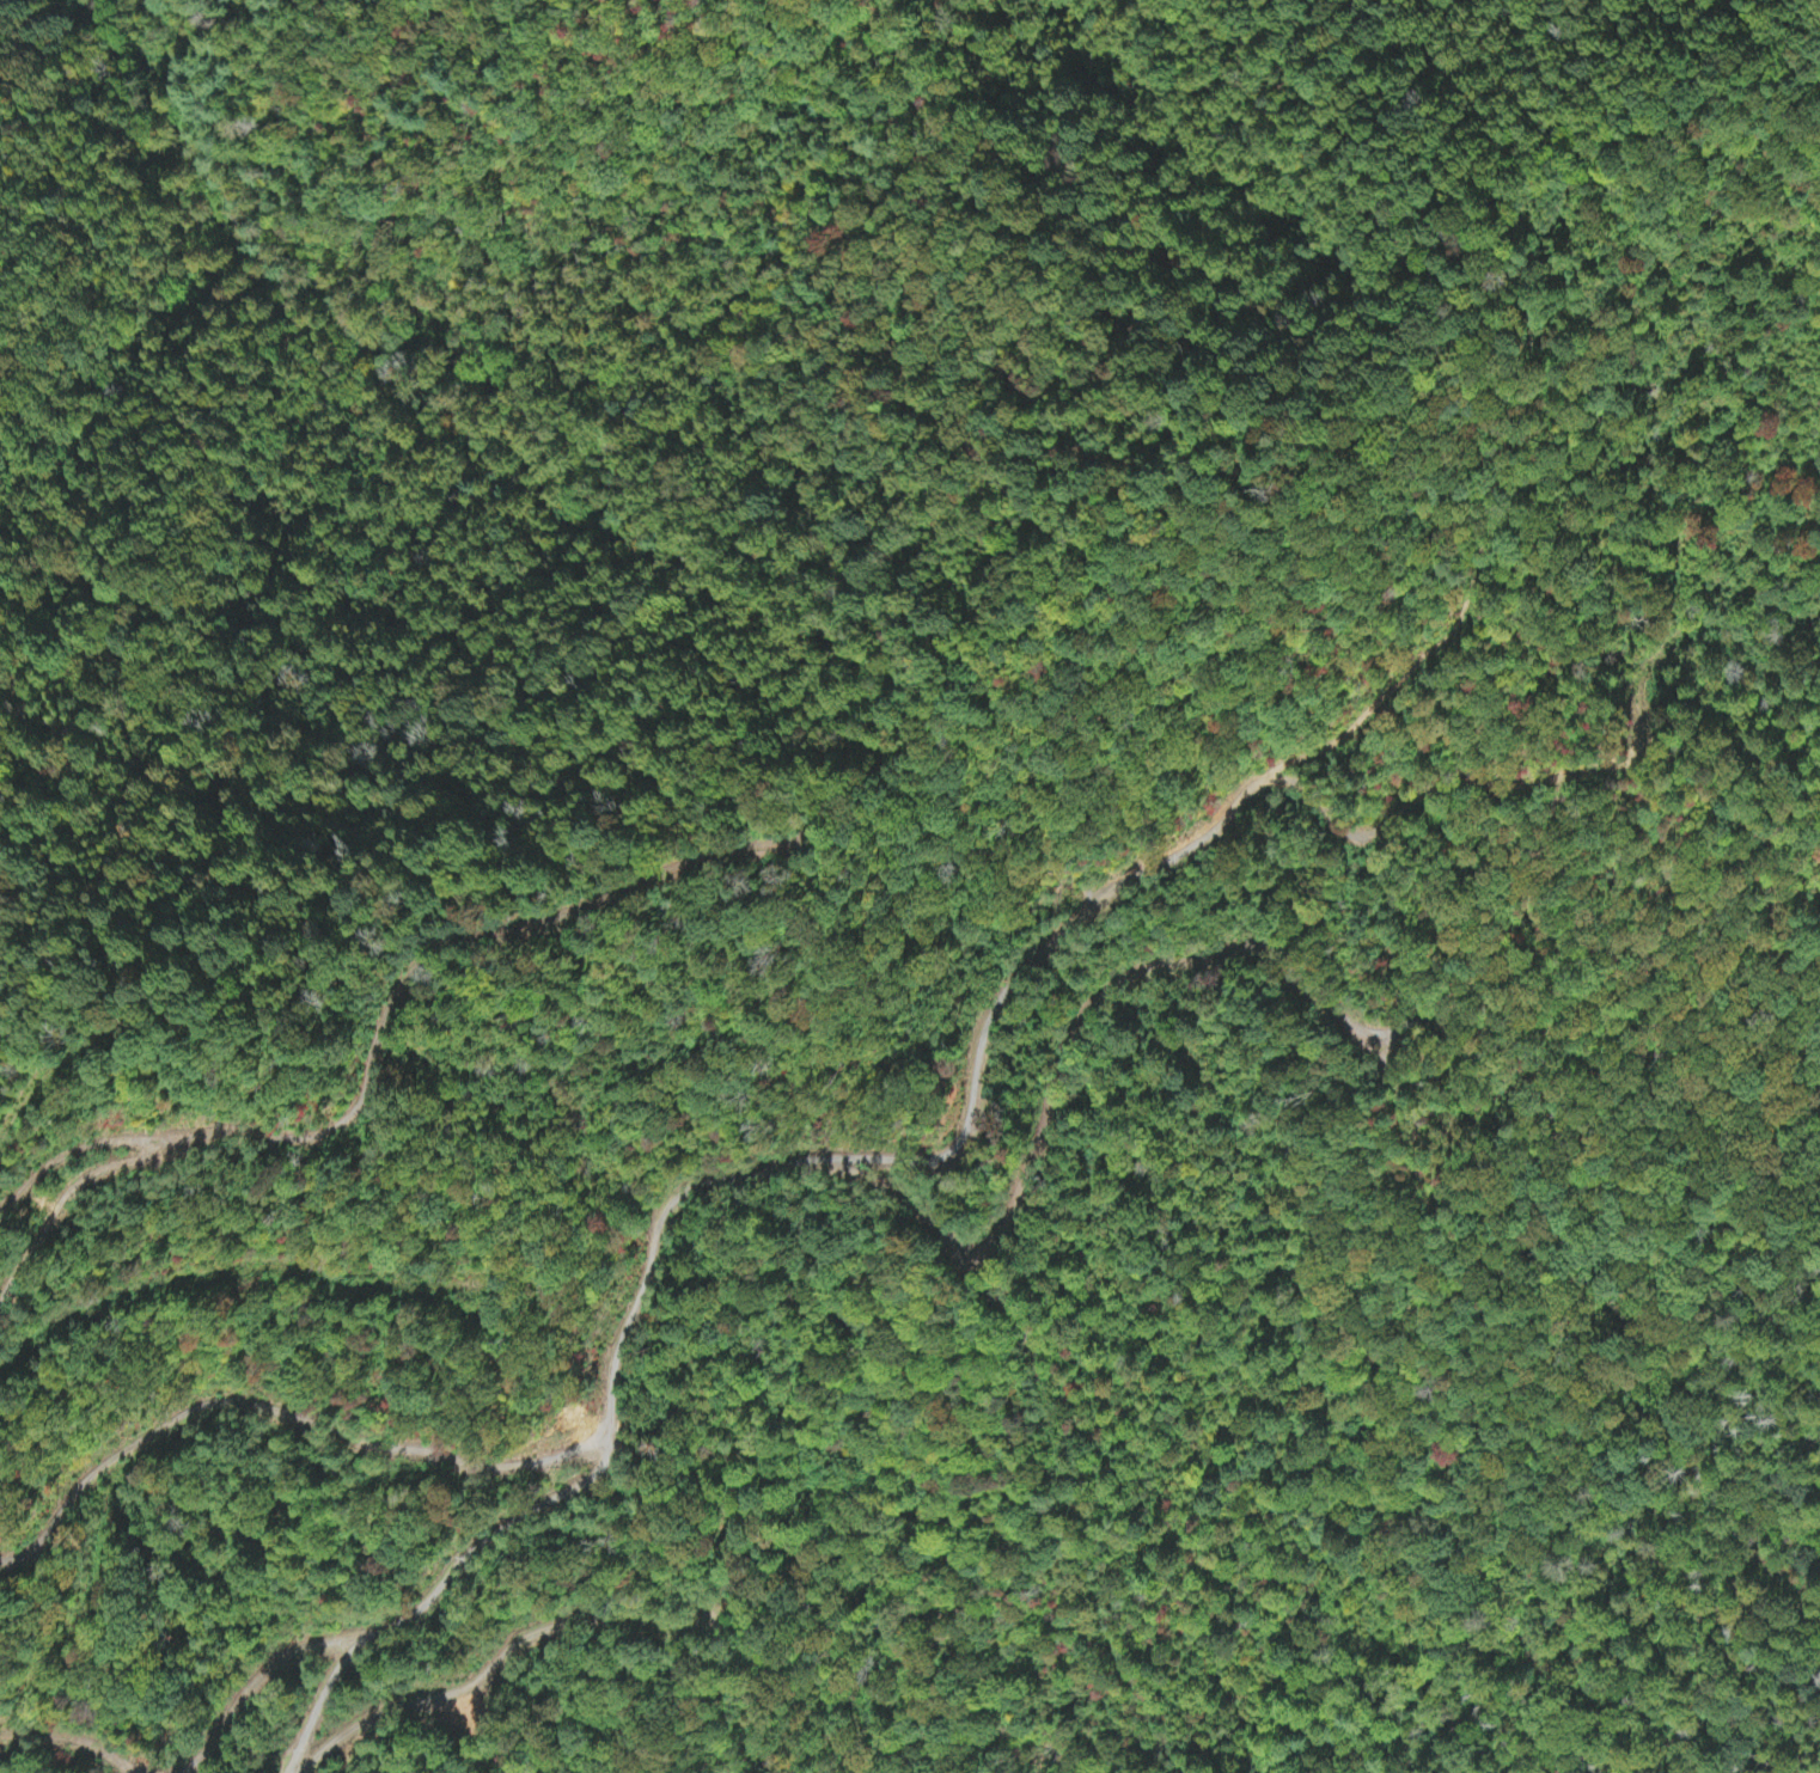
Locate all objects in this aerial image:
road: (309, 1655)
road: (306, 1713)

